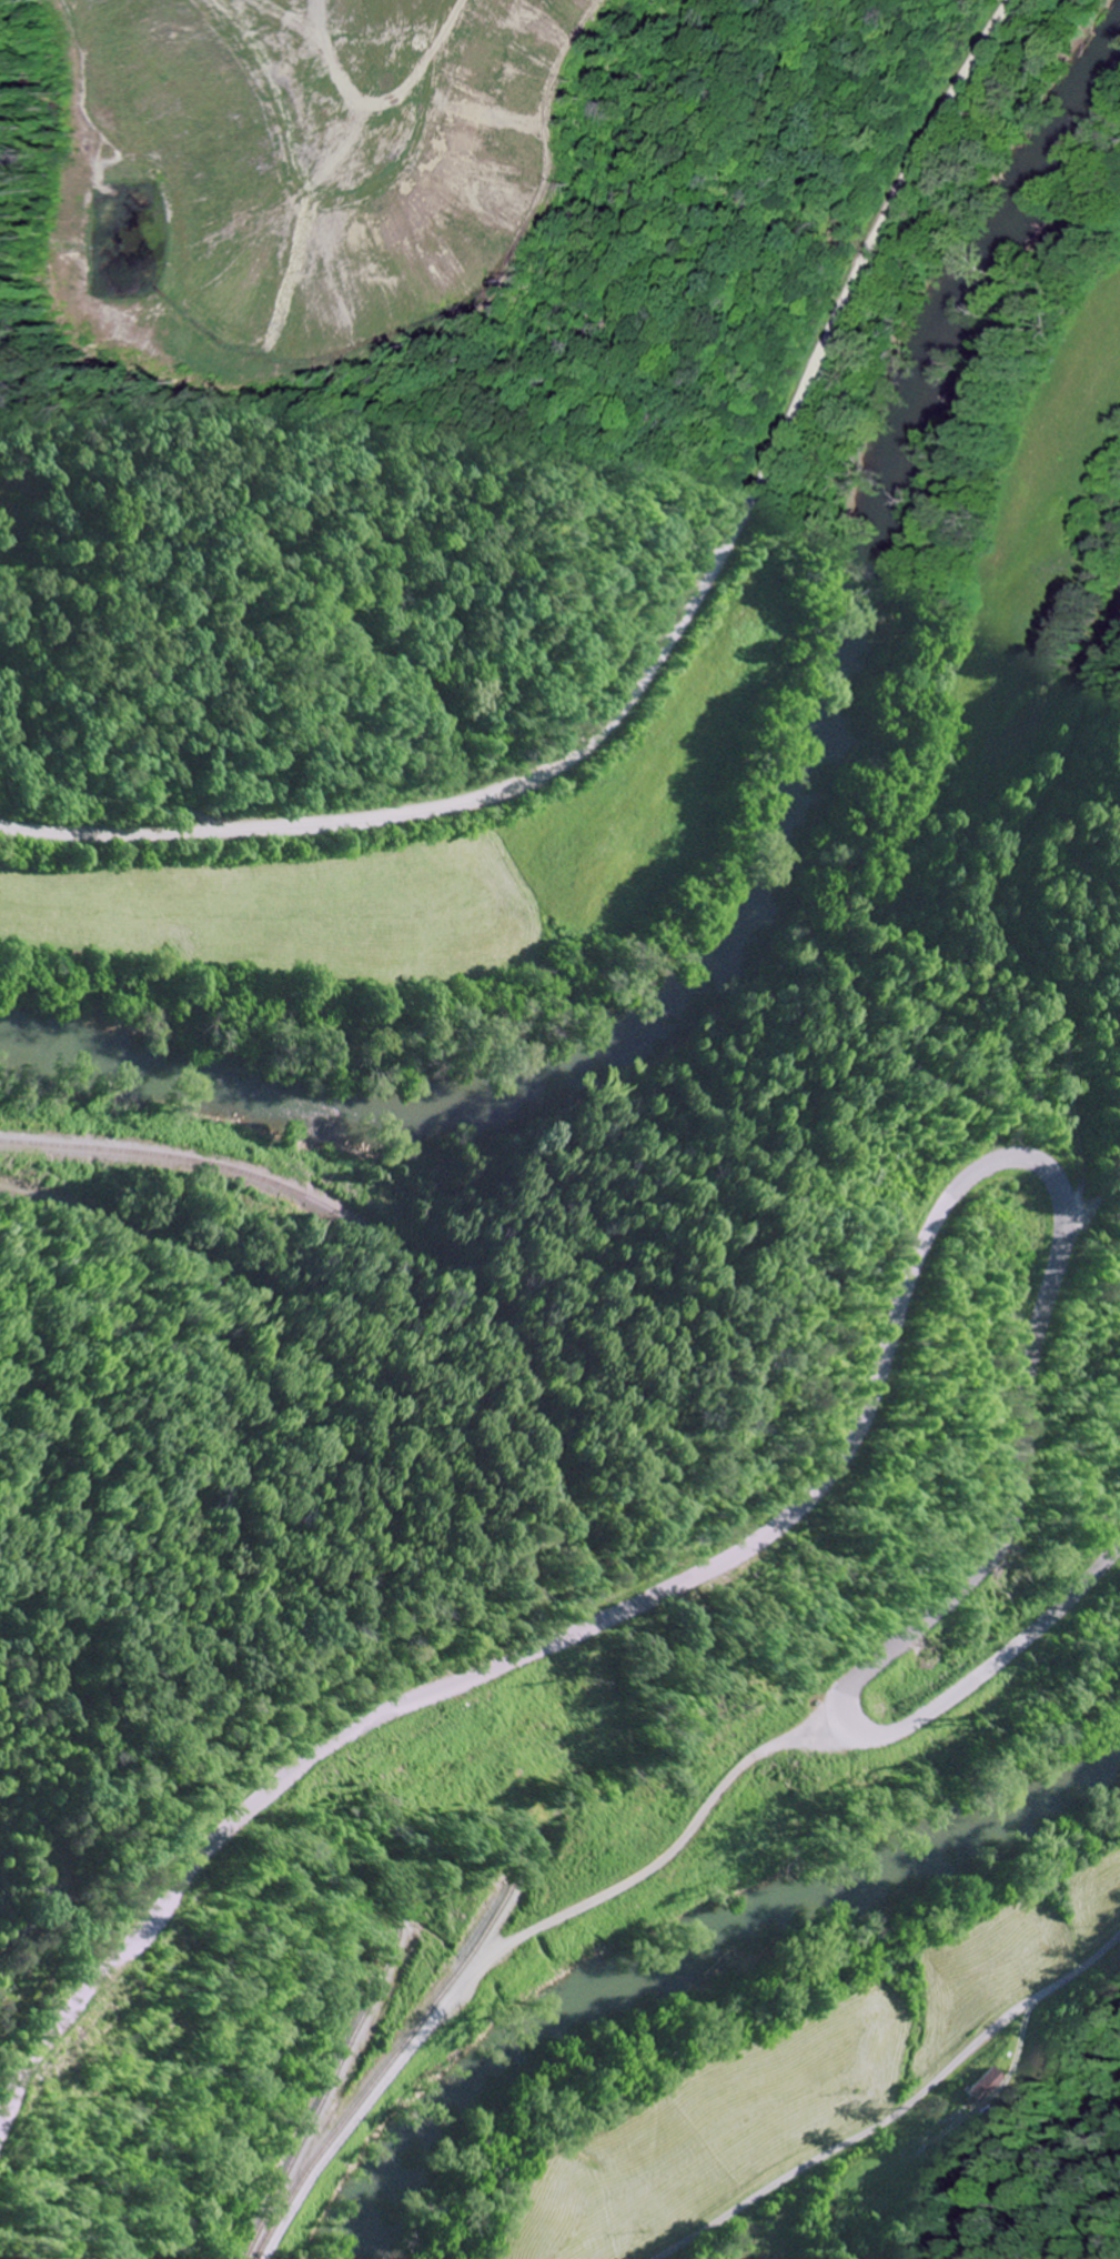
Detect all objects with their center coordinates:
road: (666, 643)
road: (71, 786)
river: (779, 841)
railway: (198, 1163)
road: (1092, 1185)
railway: (127, 1232)
road: (895, 1319)
road: (204, 1347)
road: (511, 1942)
river: (693, 1951)
railway: (405, 2044)
railway: (335, 2078)
road: (899, 2112)

